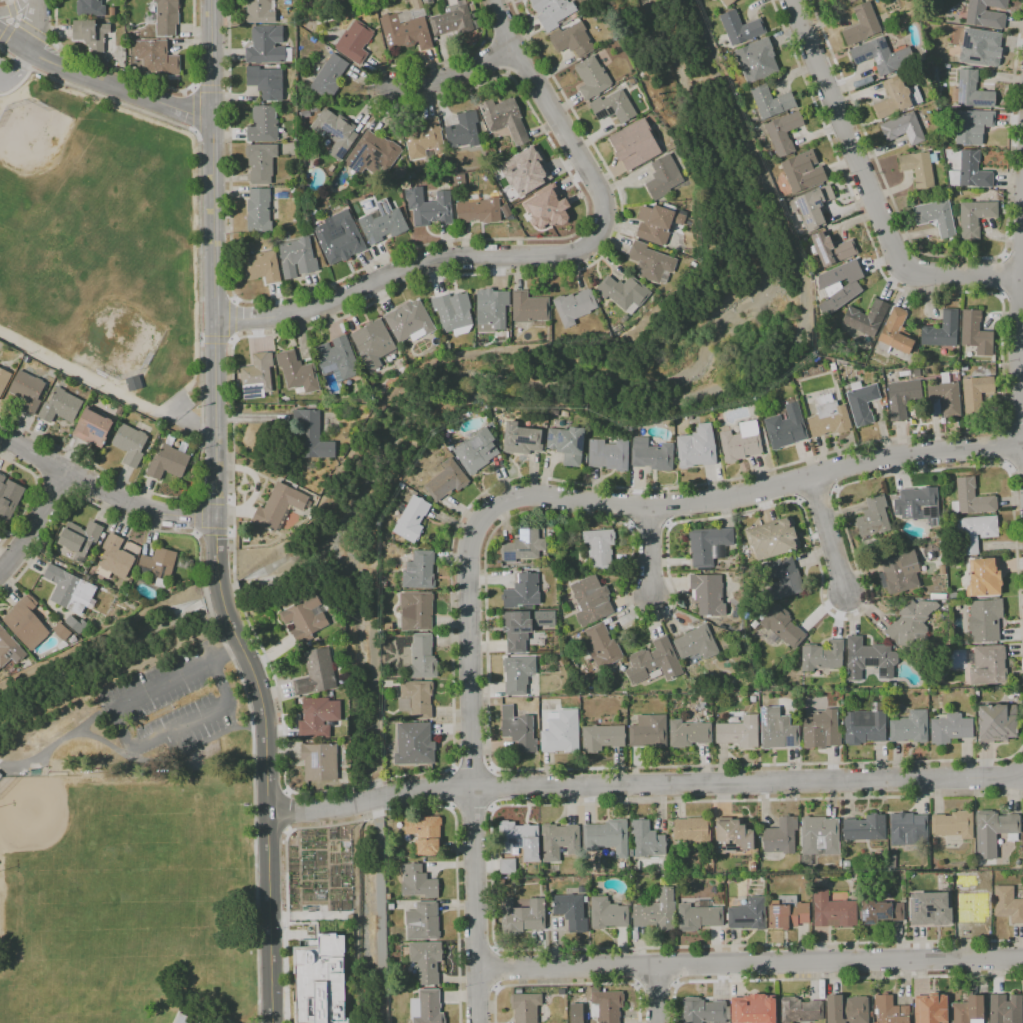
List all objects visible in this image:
building: (848, 0)
building: (851, 0)
building: (727, 2)
road: (13, 7)
road: (10, 8)
building: (90, 8)
building: (112, 12)
building: (259, 12)
building: (552, 12)
building: (983, 13)
building: (167, 17)
building: (453, 18)
road: (14, 21)
road: (16, 21)
building: (861, 24)
road: (32, 25)
building: (406, 28)
building: (740, 28)
road: (34, 32)
road: (5, 33)
building: (93, 35)
road: (13, 40)
building: (572, 40)
building: (354, 42)
road: (54, 44)
building: (266, 45)
building: (980, 47)
building: (882, 56)
building: (157, 58)
building: (757, 60)
road: (19, 65)
building: (326, 75)
road: (456, 75)
parking lot: (10, 76)
road: (143, 78)
building: (592, 78)
road: (4, 80)
building: (266, 82)
road: (17, 84)
road: (117, 87)
building: (971, 91)
building: (896, 98)
building: (770, 102)
building: (613, 107)
road: (553, 112)
building: (306, 113)
building: (504, 118)
building: (263, 124)
building: (972, 126)
building: (481, 127)
building: (905, 127)
building: (463, 130)
building: (335, 132)
building: (783, 132)
building: (424, 139)
building: (634, 145)
building: (766, 148)
building: (372, 154)
park: (43, 159)
building: (261, 162)
building: (918, 168)
building: (525, 171)
building: (803, 171)
building: (970, 171)
building: (401, 173)
building: (412, 175)
building: (663, 177)
building: (405, 185)
road: (869, 190)
building: (989, 193)
building: (916, 201)
building: (812, 206)
building: (429, 207)
building: (548, 207)
building: (259, 211)
building: (479, 211)
building: (936, 217)
building: (975, 217)
building: (383, 222)
building: (658, 222)
building: (692, 224)
building: (339, 237)
road: (516, 239)
building: (832, 248)
road: (1013, 253)
road: (945, 256)
building: (297, 258)
building: (650, 262)
road: (192, 264)
building: (261, 267)
road: (409, 267)
road: (999, 276)
road: (438, 278)
building: (839, 286)
building: (623, 292)
road: (213, 294)
road: (1011, 295)
road: (232, 301)
building: (574, 306)
building: (528, 307)
building: (491, 309)
building: (453, 311)
road: (200, 314)
building: (865, 318)
park: (111, 319)
road: (230, 320)
building: (409, 321)
building: (941, 330)
building: (895, 333)
building: (975, 333)
road: (215, 339)
road: (231, 340)
road: (1021, 341)
building: (373, 343)
building: (337, 359)
building: (964, 368)
building: (297, 372)
building: (904, 373)
building: (917, 373)
building: (257, 376)
building: (4, 379)
building: (134, 383)
building: (27, 391)
building: (976, 393)
building: (902, 397)
building: (943, 397)
building: (862, 403)
building: (60, 407)
building: (545, 411)
building: (828, 416)
road: (1013, 425)
building: (93, 427)
building: (786, 427)
road: (981, 431)
building: (312, 435)
building: (521, 439)
building: (741, 442)
building: (130, 444)
building: (567, 444)
road: (1005, 446)
building: (697, 447)
building: (476, 451)
building: (608, 454)
building: (651, 455)
road: (43, 460)
building: (168, 463)
road: (1015, 467)
road: (828, 473)
road: (77, 479)
building: (446, 480)
road: (793, 483)
building: (401, 485)
road: (53, 488)
road: (102, 489)
road: (757, 491)
road: (32, 493)
building: (9, 497)
road: (195, 497)
building: (971, 498)
road: (229, 499)
road: (211, 500)
building: (918, 505)
building: (280, 506)
road: (109, 511)
road: (196, 516)
building: (873, 517)
building: (411, 519)
road: (38, 523)
building: (975, 531)
road: (210, 532)
road: (230, 533)
road: (194, 534)
building: (894, 535)
road: (828, 536)
building: (246, 538)
building: (79, 539)
building: (771, 539)
building: (523, 546)
building: (709, 546)
building: (599, 548)
road: (649, 552)
building: (554, 557)
building: (114, 559)
building: (183, 562)
building: (157, 566)
road: (631, 568)
building: (419, 570)
building: (942, 570)
building: (899, 572)
building: (984, 577)
building: (782, 579)
building: (70, 590)
road: (236, 590)
road: (5, 591)
building: (522, 592)
building: (708, 594)
building: (938, 596)
road: (221, 597)
building: (591, 600)
road: (206, 604)
building: (416, 611)
building: (747, 614)
building: (942, 616)
building: (305, 618)
building: (543, 618)
building: (985, 619)
building: (26, 623)
building: (76, 624)
building: (911, 625)
building: (388, 627)
building: (780, 627)
building: (517, 630)
building: (63, 633)
building: (961, 642)
building: (696, 643)
building: (62, 646)
building: (602, 646)
building: (9, 651)
building: (822, 656)
building: (422, 657)
building: (869, 659)
building: (654, 662)
building: (988, 665)
building: (316, 673)
building: (517, 674)
building: (773, 684)
building: (892, 685)
building: (961, 686)
building: (971, 691)
building: (416, 699)
building: (637, 704)
parking lot: (169, 708)
building: (318, 717)
building: (996, 722)
building: (865, 726)
building: (910, 727)
building: (950, 728)
building: (776, 729)
building: (821, 729)
building: (518, 730)
building: (561, 732)
building: (649, 732)
building: (739, 732)
building: (688, 733)
building: (602, 737)
road: (127, 738)
road: (106, 741)
building: (414, 744)
road: (59, 745)
building: (319, 762)
road: (471, 762)
road: (472, 767)
building: (0, 775)
road: (379, 781)
road: (644, 784)
road: (451, 788)
road: (493, 788)
road: (285, 791)
road: (472, 809)
road: (267, 810)
road: (284, 811)
road: (253, 813)
road: (381, 815)
building: (953, 826)
building: (865, 828)
building: (695, 829)
building: (908, 829)
road: (286, 830)
building: (993, 832)
park: (132, 833)
building: (425, 833)
park: (51, 834)
building: (1022, 834)
building: (732, 836)
building: (781, 836)
building: (606, 837)
building: (818, 837)
building: (647, 839)
building: (519, 840)
building: (558, 841)
building: (934, 841)
park: (132, 844)
building: (631, 853)
building: (846, 865)
building: (507, 866)
building: (753, 867)
road: (491, 876)
building: (418, 881)
building: (501, 882)
building: (819, 882)
building: (971, 903)
building: (1008, 904)
building: (571, 910)
building: (935, 910)
building: (833, 911)
building: (657, 912)
building: (787, 912)
building: (879, 912)
building: (607, 913)
building: (747, 914)
building: (522, 917)
building: (698, 917)
park: (66, 921)
building: (423, 921)
road: (477, 951)
building: (426, 961)
road: (637, 966)
road: (672, 966)
road: (496, 967)
road: (750, 967)
road: (830, 978)
building: (318, 981)
road: (567, 984)
road: (655, 985)
road: (477, 986)
road: (661, 995)
building: (606, 1005)
building: (427, 1007)
building: (525, 1007)
building: (1005, 1009)
building: (754, 1010)
building: (799, 1010)
building: (848, 1010)
building: (889, 1010)
building: (929, 1010)
building: (968, 1010)
building: (704, 1011)
building: (180, 1019)

